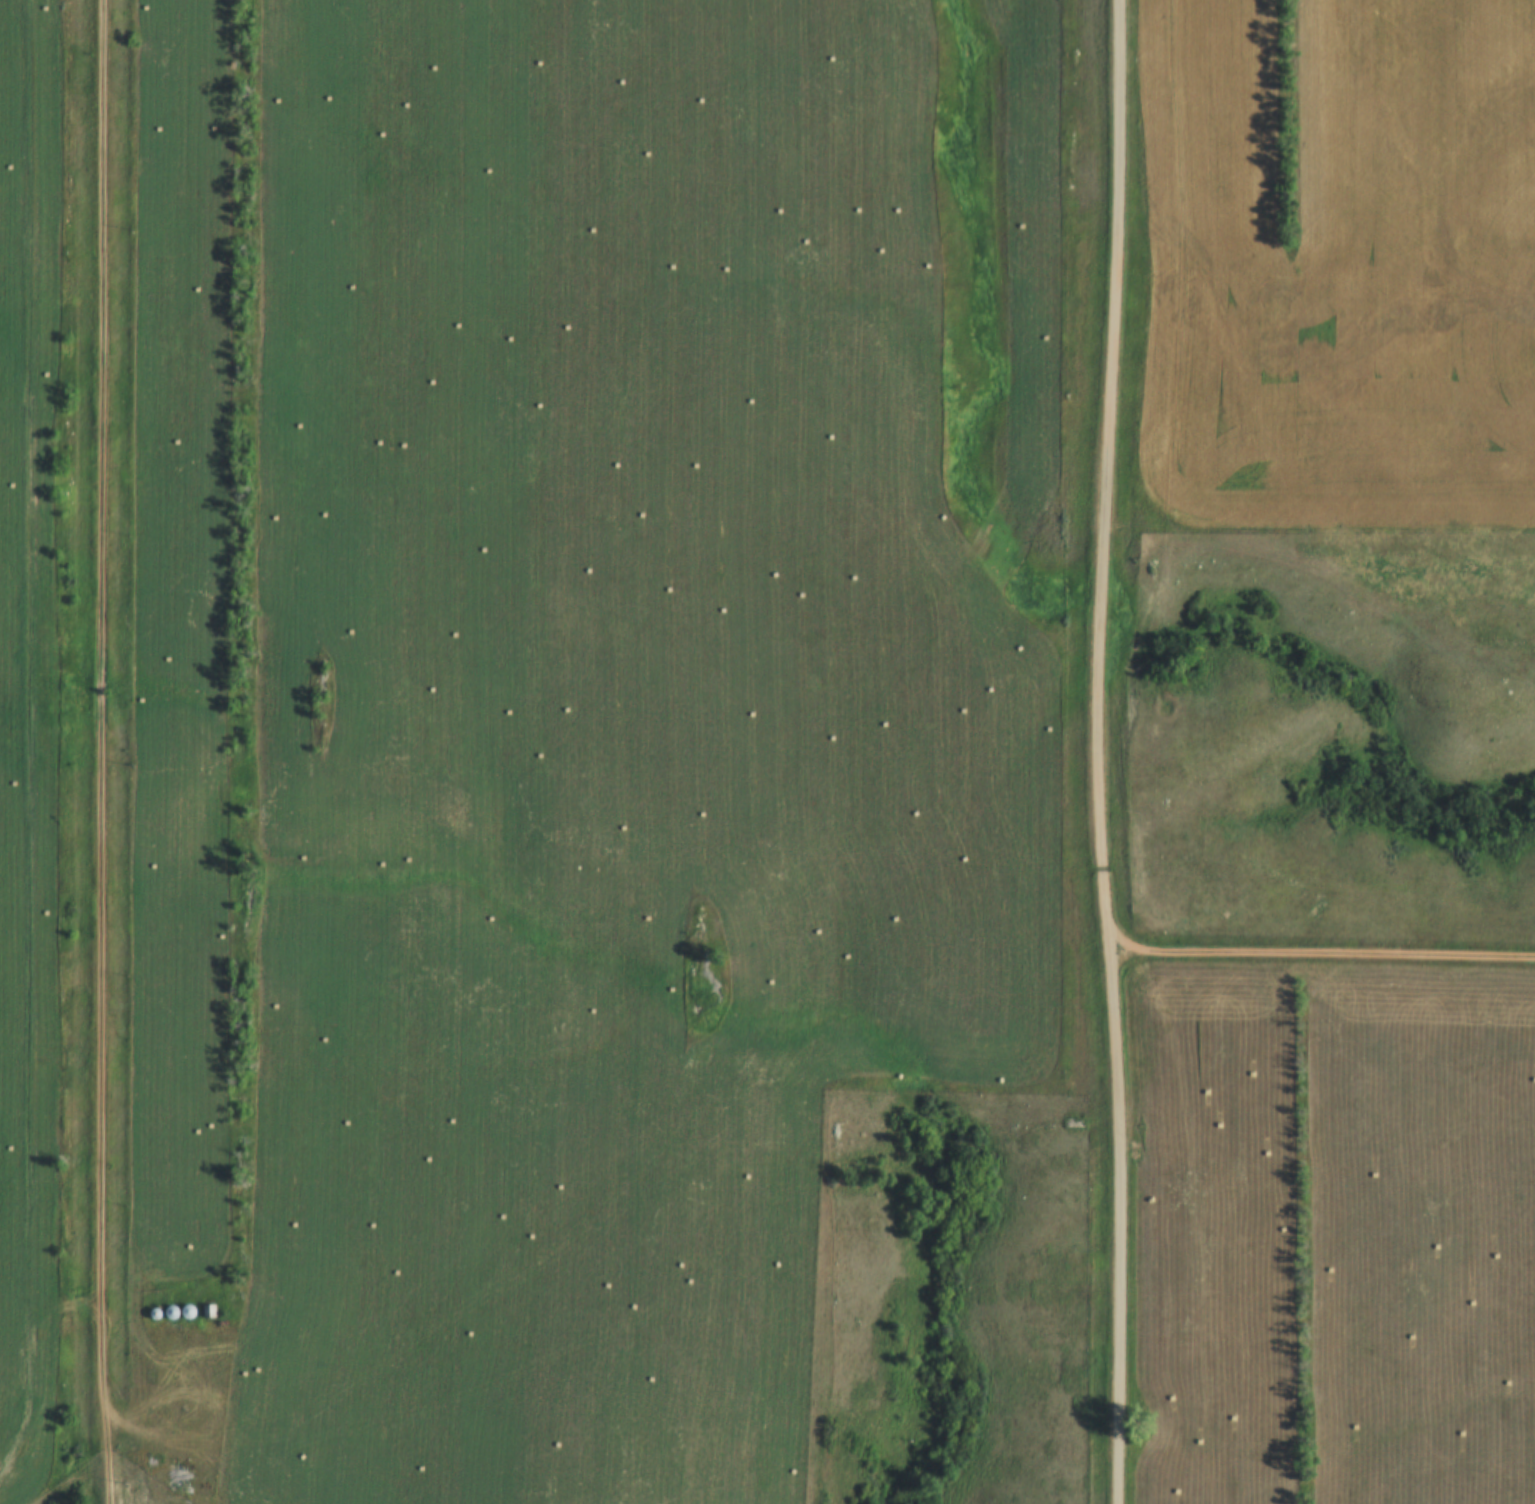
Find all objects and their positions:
road: (103, 752)
road: (1102, 752)
road: (1324, 959)
building: (181, 1493)

